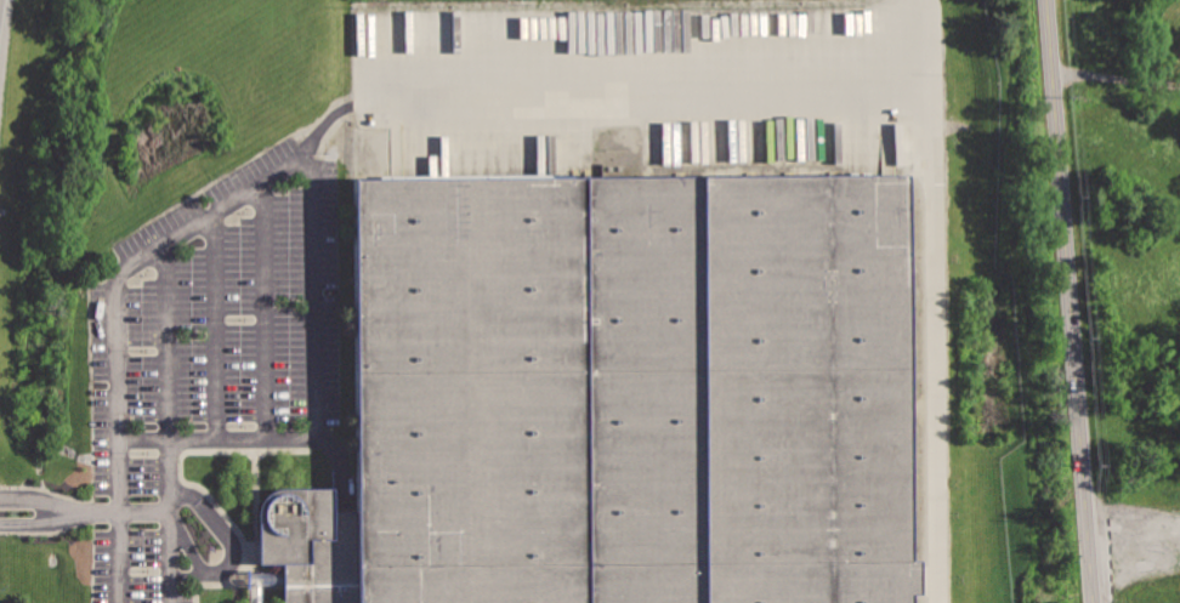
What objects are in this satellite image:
road: (1116, 76)
road: (645, 92)
road: (325, 118)
road: (287, 160)
road: (925, 301)
road: (1071, 301)
road: (265, 306)
road: (215, 323)
road: (168, 337)
building: (622, 397)
road: (141, 438)
road: (67, 510)
road: (117, 511)
road: (166, 519)
road: (185, 541)
road: (232, 542)
flagpole: (212, 551)
road: (1135, 553)
road: (118, 557)

